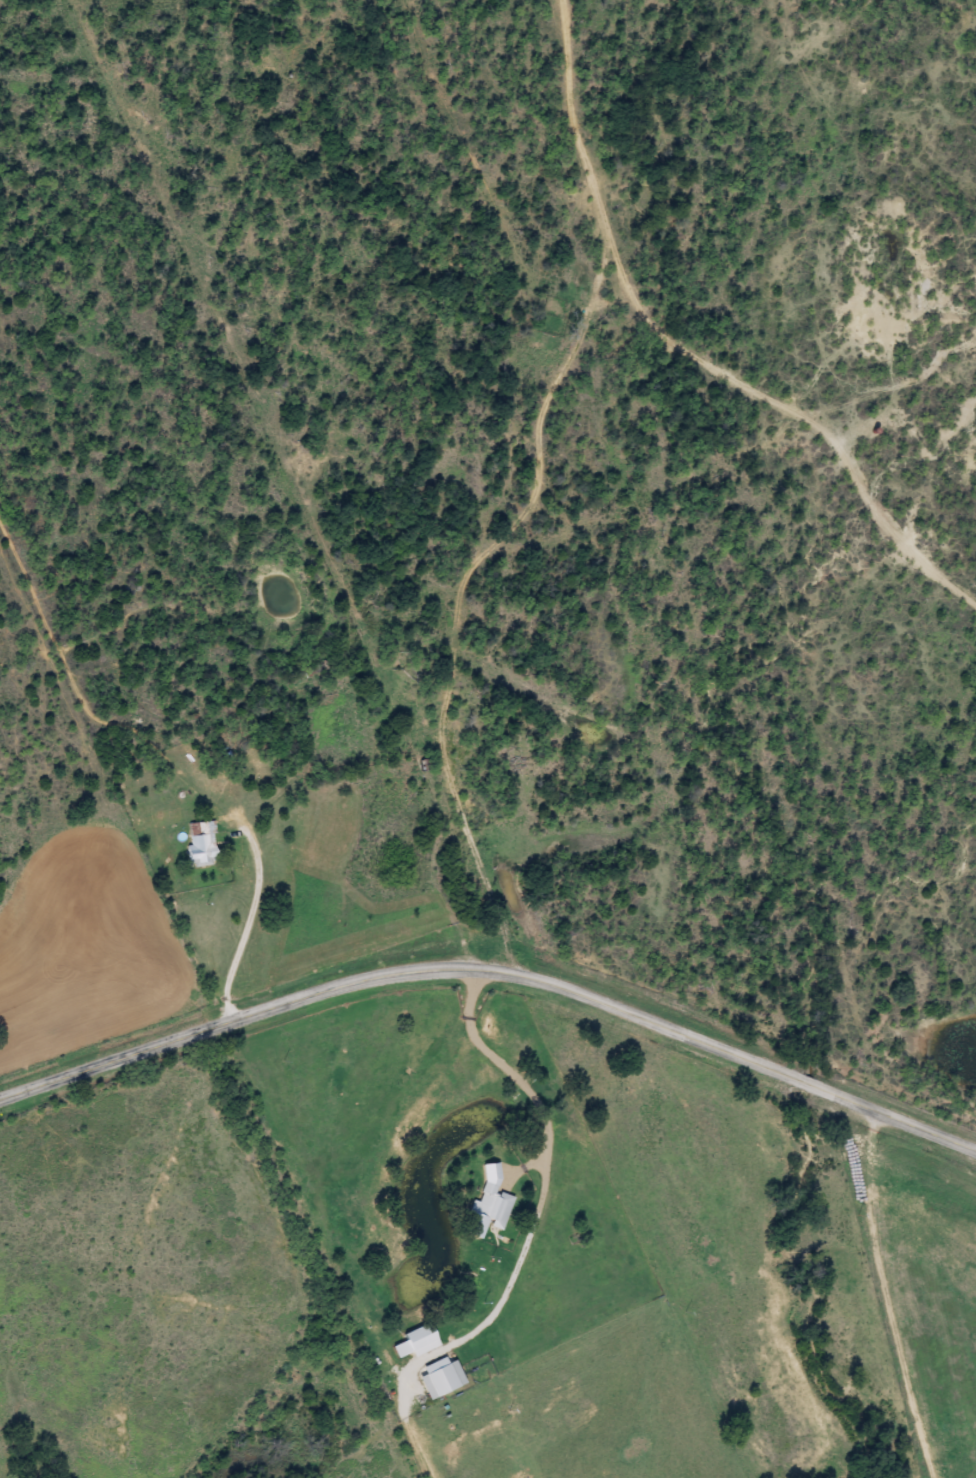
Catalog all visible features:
building: (200, 845)
road: (494, 969)
building: (486, 1211)
road: (442, 1231)
building: (439, 1380)

